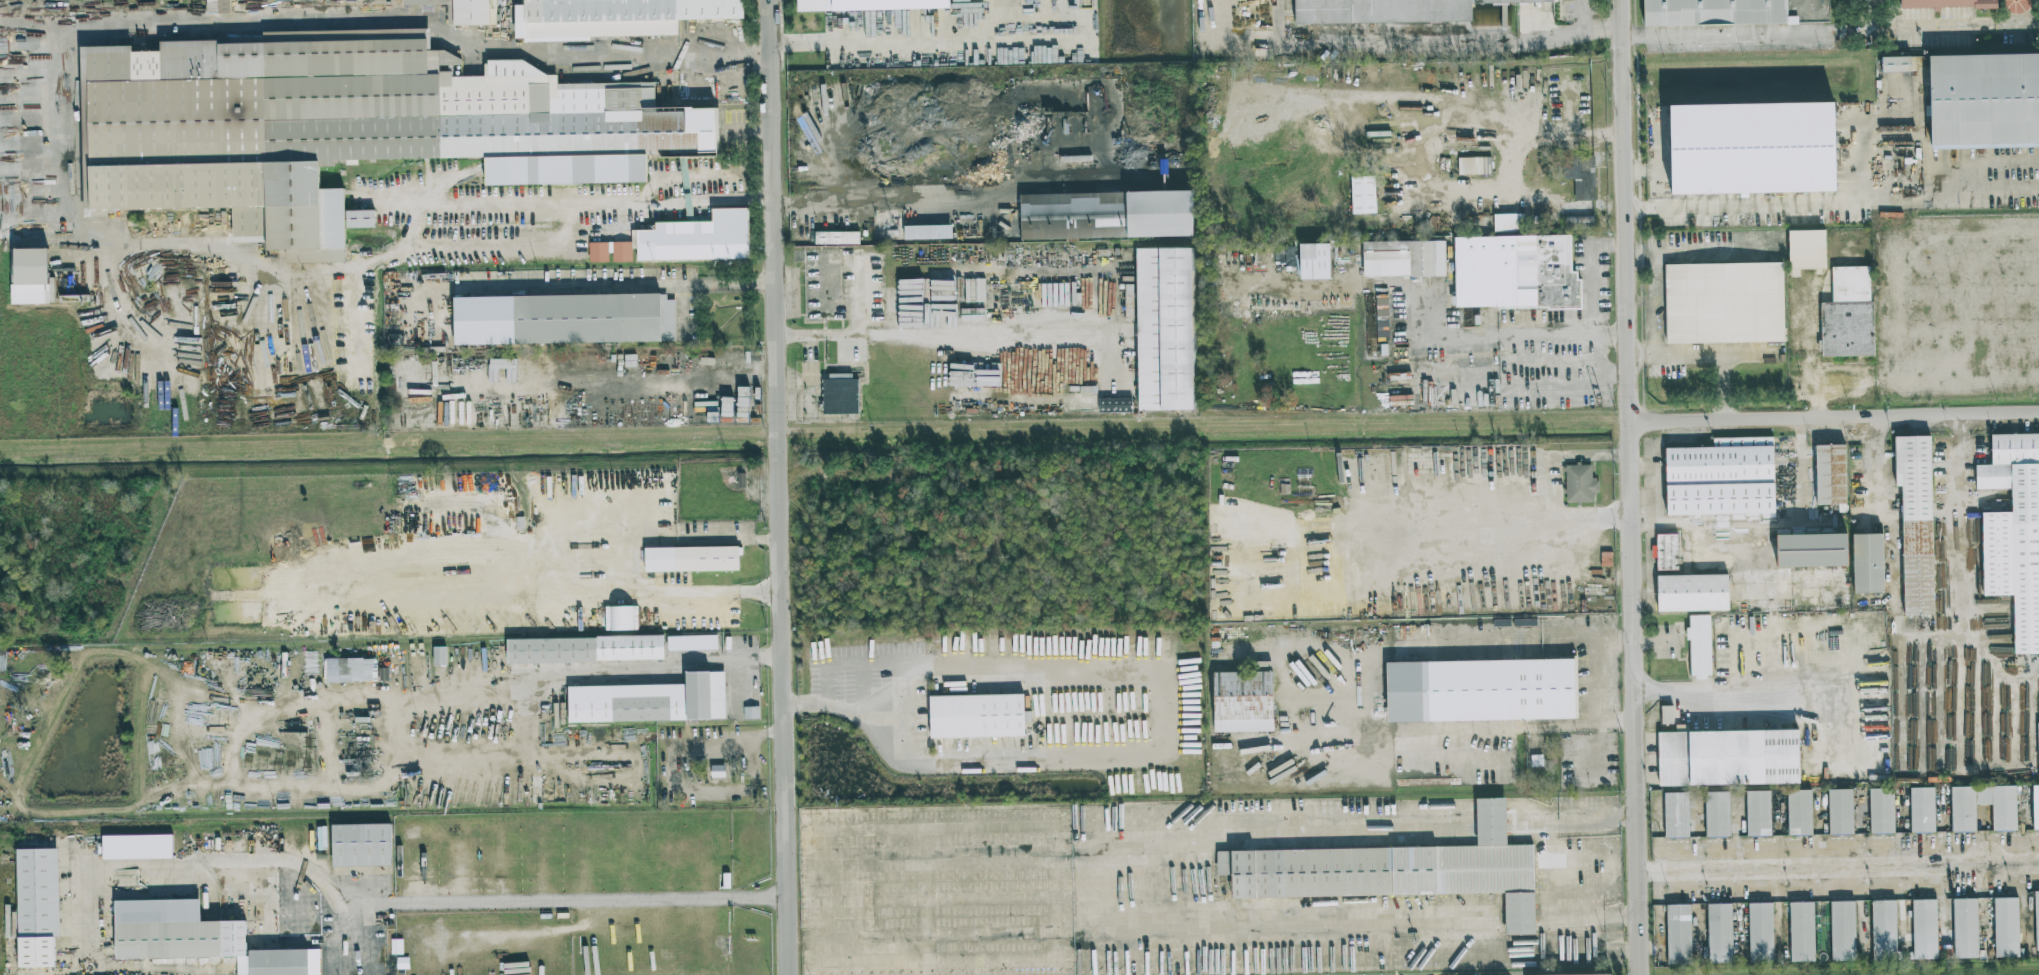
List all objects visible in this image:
building: (414, 3)
building: (1955, 3)
building: (869, 5)
building: (218, 6)
building: (1389, 10)
building: (471, 12)
building: (1712, 12)
building: (615, 17)
road: (1573, 18)
road: (200, 27)
road: (1946, 28)
road: (1578, 35)
road: (893, 36)
building: (1896, 64)
building: (1984, 100)
building: (1030, 120)
building: (347, 127)
road: (1567, 132)
building: (1757, 151)
building: (1580, 175)
road: (1975, 178)
road: (1431, 187)
building: (1363, 194)
road: (711, 202)
road: (878, 202)
road: (1566, 207)
road: (1774, 211)
road: (522, 212)
building: (1105, 214)
building: (1508, 222)
building: (1578, 222)
building: (920, 232)
building: (836, 238)
building: (684, 240)
building: (1806, 249)
road: (490, 250)
building: (1403, 258)
building: (1314, 261)
building: (1514, 273)
road: (1593, 273)
building: (29, 276)
road: (616, 284)
road: (861, 297)
building: (1723, 303)
building: (1847, 314)
building: (1469, 317)
building: (564, 319)
building: (1164, 328)
road: (1564, 334)
road: (1460, 335)
road: (941, 339)
road: (1604, 364)
building: (840, 395)
building: (1115, 405)
road: (1836, 416)
road: (1873, 439)
building: (1830, 474)
building: (1721, 477)
building: (1579, 484)
road: (780, 487)
road: (1633, 487)
building: (1915, 521)
road: (1955, 525)
building: (2013, 533)
building: (1813, 550)
building: (1666, 552)
building: (691, 559)
road: (616, 562)
building: (1868, 562)
road: (1890, 578)
building: (1692, 592)
building: (692, 643)
building: (1699, 646)
building: (585, 649)
building: (439, 656)
building: (350, 668)
road: (610, 674)
road: (1606, 682)
road: (1714, 688)
building: (1507, 691)
road: (1412, 694)
building: (1246, 697)
building: (650, 701)
building: (976, 716)
road: (1162, 749)
building: (2038, 751)
building: (1728, 757)
road: (1443, 767)
road: (1490, 805)
road: (1449, 806)
road: (1524, 806)
building: (2035, 807)
building: (1922, 809)
building: (1881, 810)
building: (1840, 811)
building: (1799, 812)
building: (1758, 813)
building: (1675, 814)
building: (1717, 814)
road: (1490, 816)
road: (1523, 816)
road: (1451, 817)
road: (1589, 817)
building: (1962, 817)
road: (1524, 827)
road: (1451, 828)
road: (1490, 828)
building: (410, 832)
road: (1525, 835)
road: (1449, 838)
road: (1490, 839)
building: (361, 845)
building: (137, 847)
road: (1583, 856)
road: (216, 860)
building: (1397, 870)
road: (1616, 871)
road: (1839, 872)
road: (1179, 887)
road: (1584, 888)
road: (1054, 891)
road: (568, 899)
building: (38, 906)
road: (1551, 915)
building: (2036, 921)
building: (2005, 927)
building: (1965, 928)
building: (1924, 929)
building: (1883, 930)
building: (1843, 931)
building: (1760, 932)
building: (1801, 932)
building: (1719, 933)
building: (1678, 934)
building: (199, 938)
road: (902, 942)
building: (396, 947)
road: (925, 958)
building: (1610, 974)

